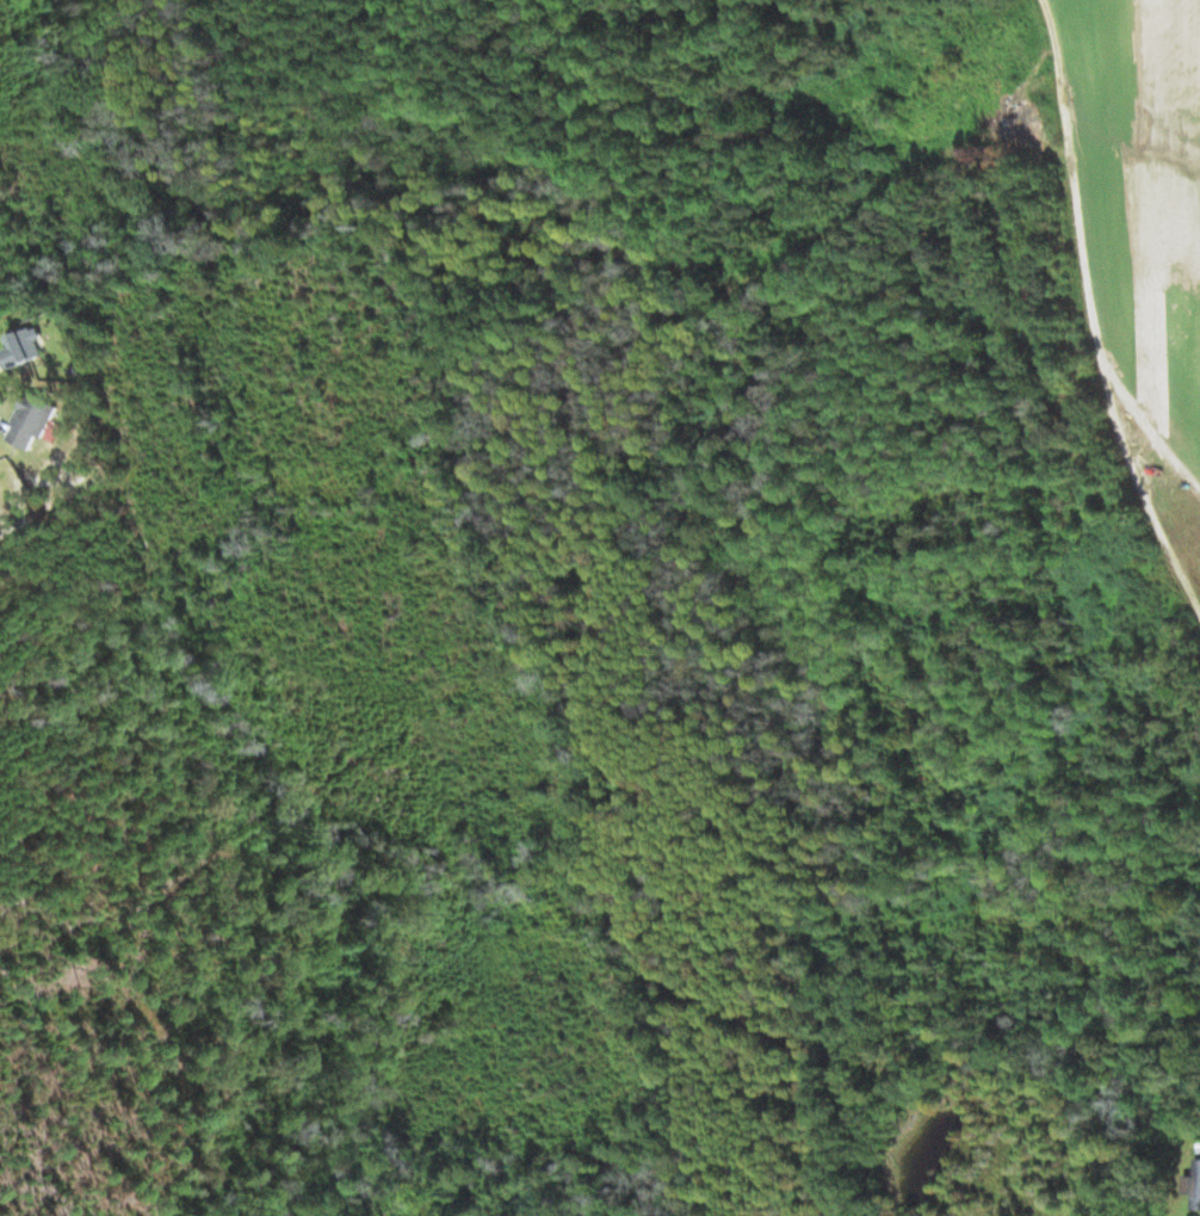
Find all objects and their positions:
building: (26, 346)
building: (32, 420)
building: (1194, 1181)
building: (1198, 1208)

